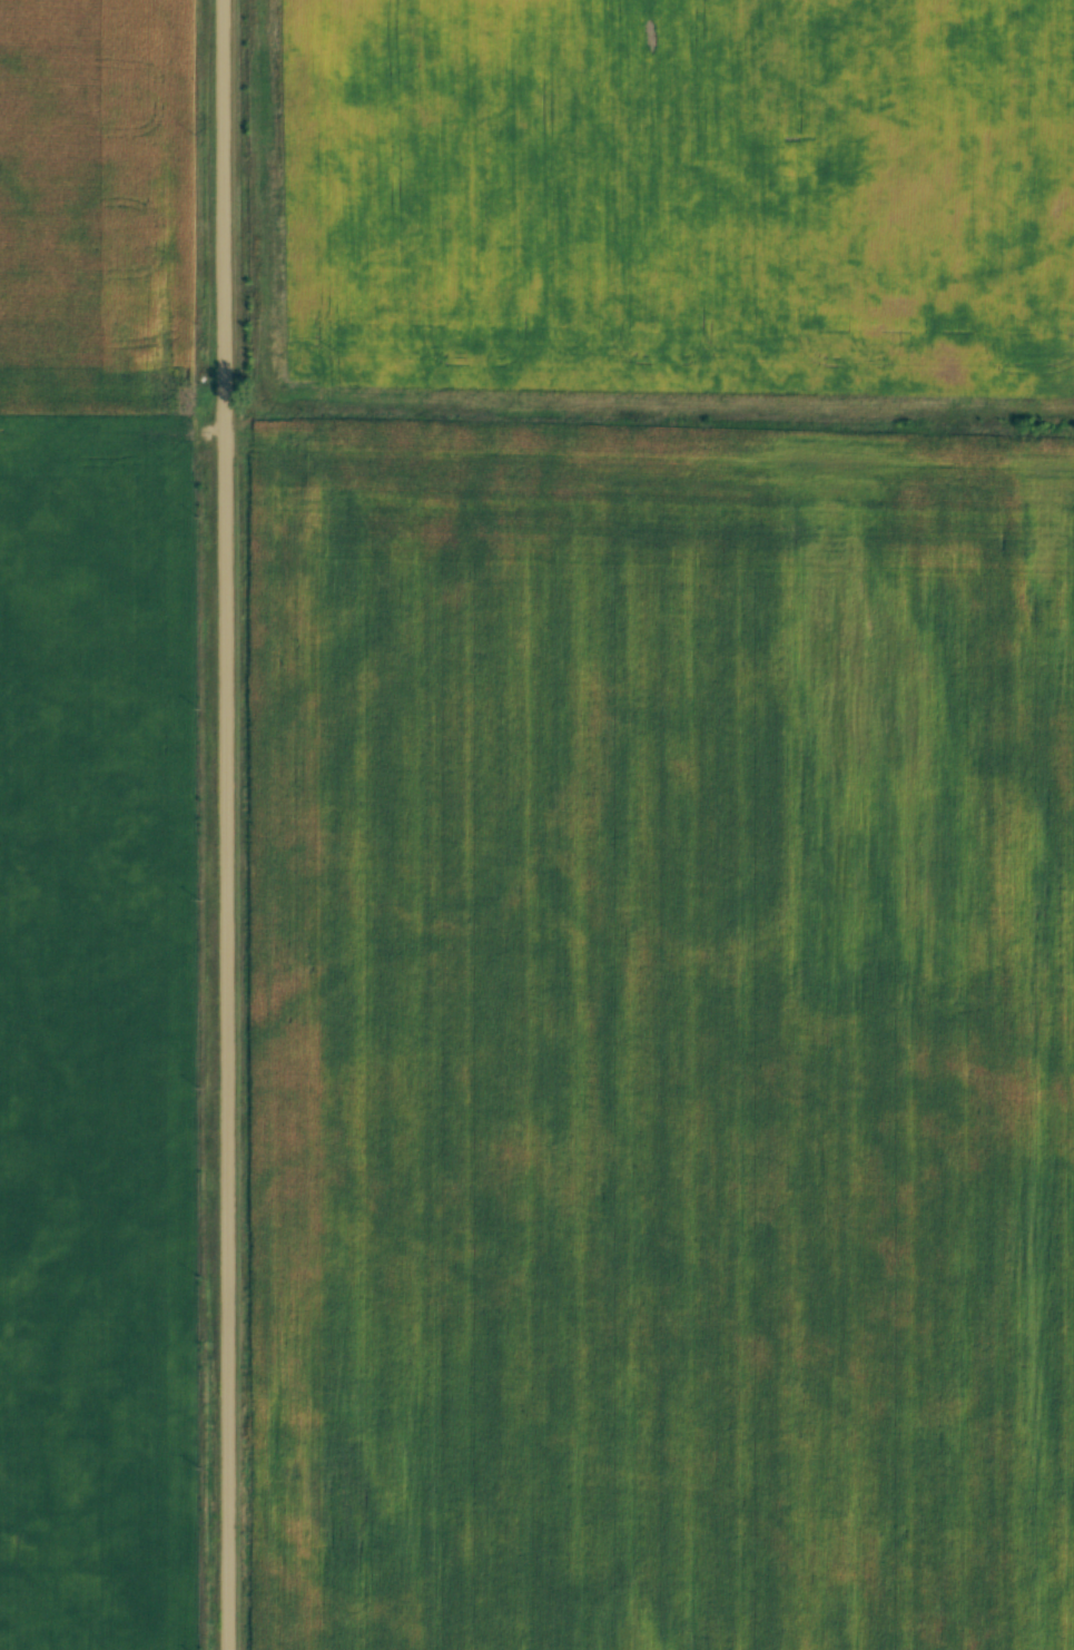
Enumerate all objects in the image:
road: (223, 824)

